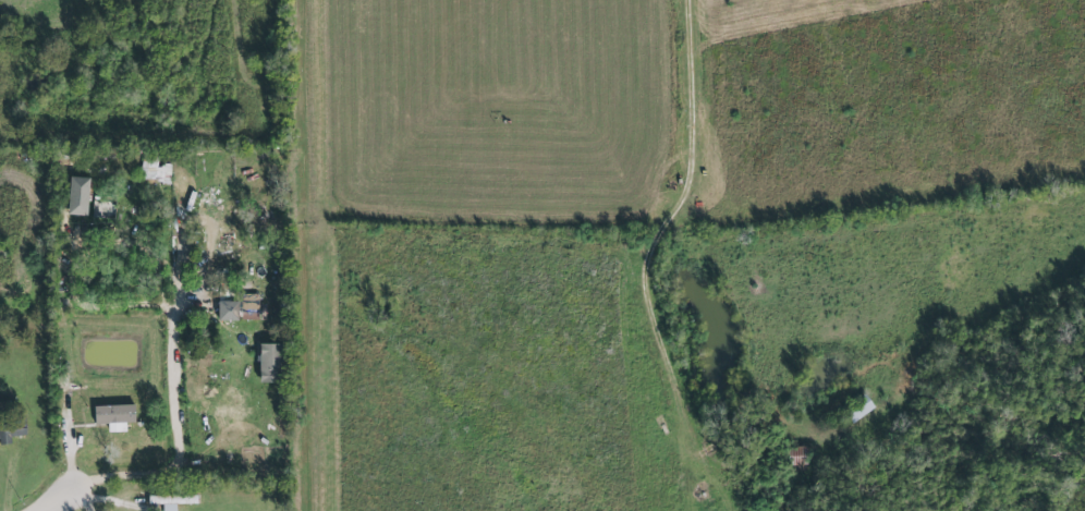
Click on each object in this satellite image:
building: (155, 171)
road: (703, 184)
building: (76, 197)
building: (239, 308)
building: (268, 364)
road: (60, 365)
building: (5, 401)
building: (858, 409)
building: (112, 417)
building: (11, 427)
road: (174, 431)
road: (81, 500)
building: (171, 500)
road: (58, 501)

